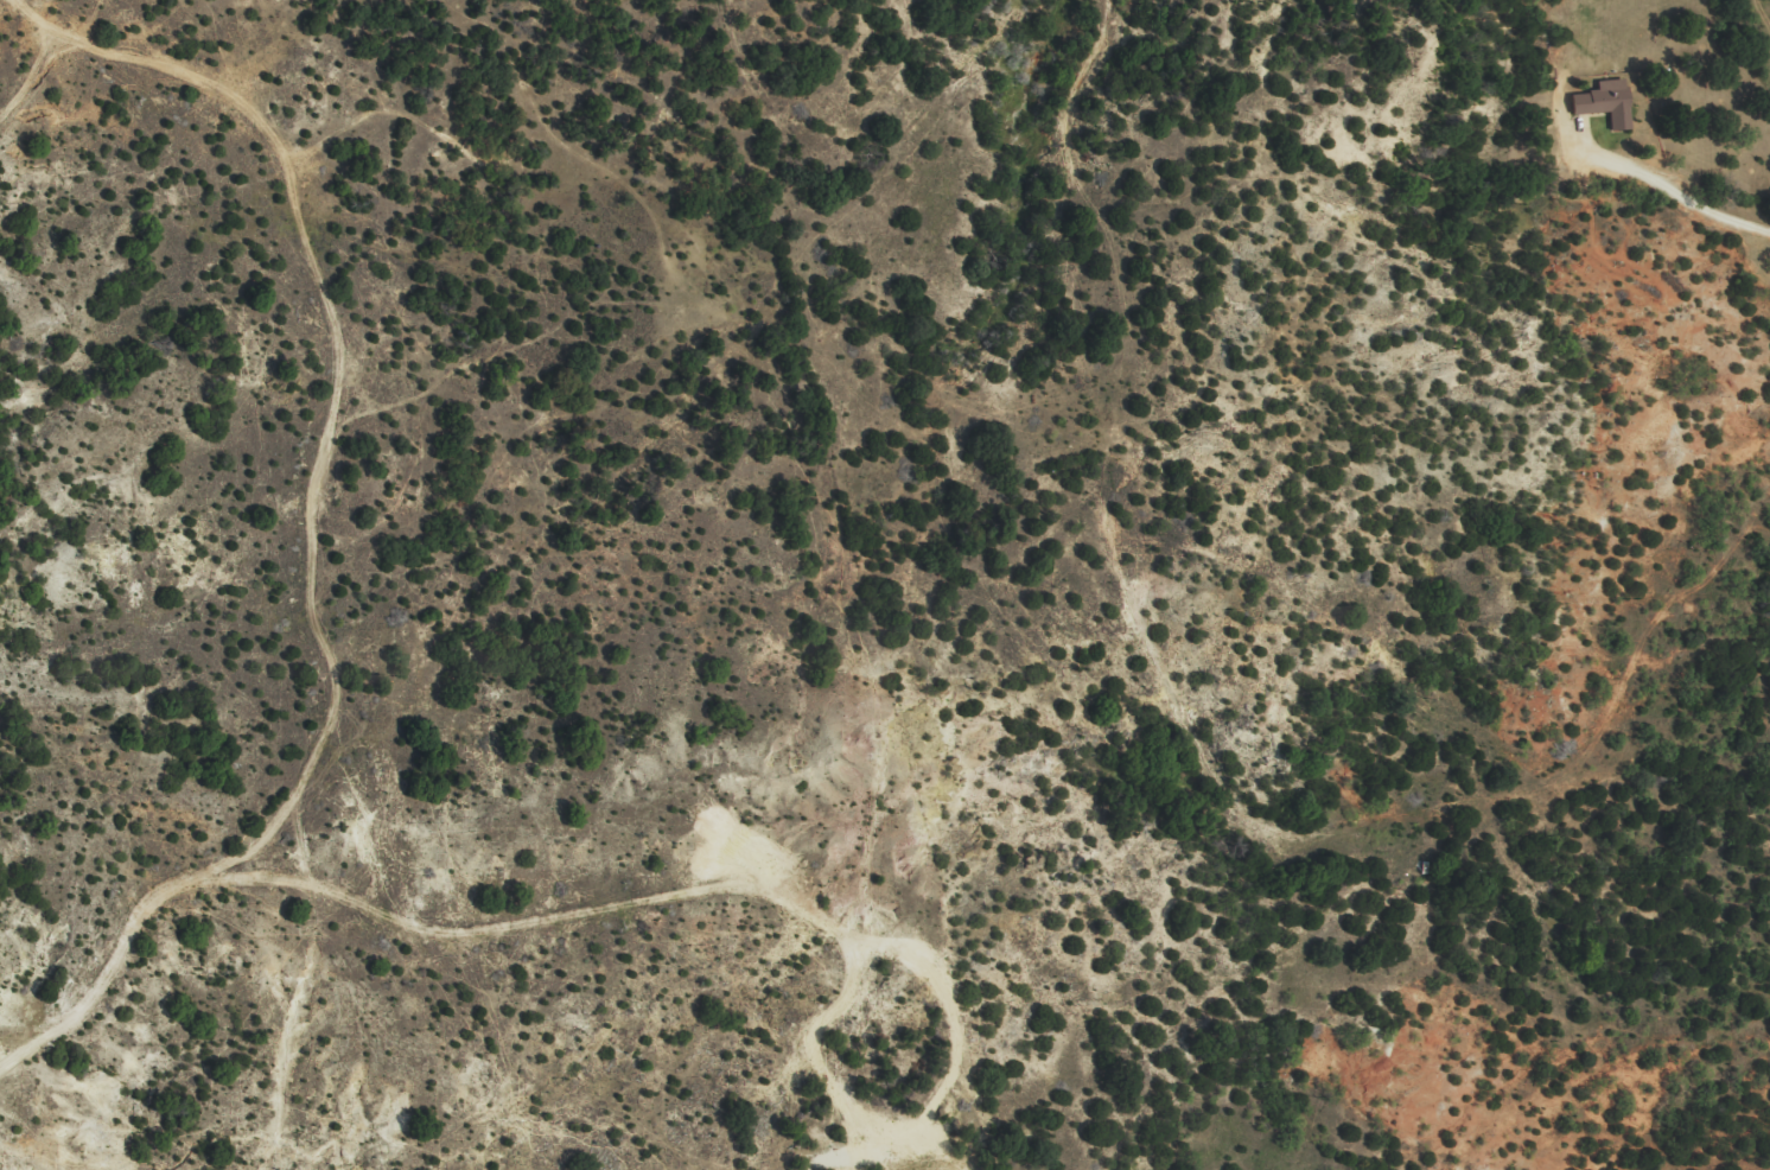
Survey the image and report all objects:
building: (1604, 112)
road: (1667, 199)

